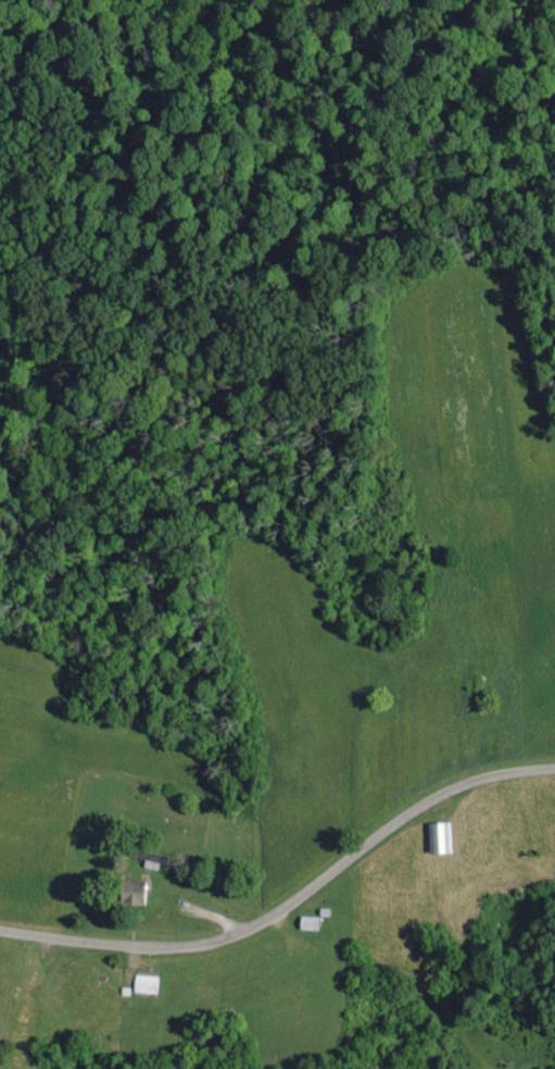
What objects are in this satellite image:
building: (128, 894)
road: (290, 908)

